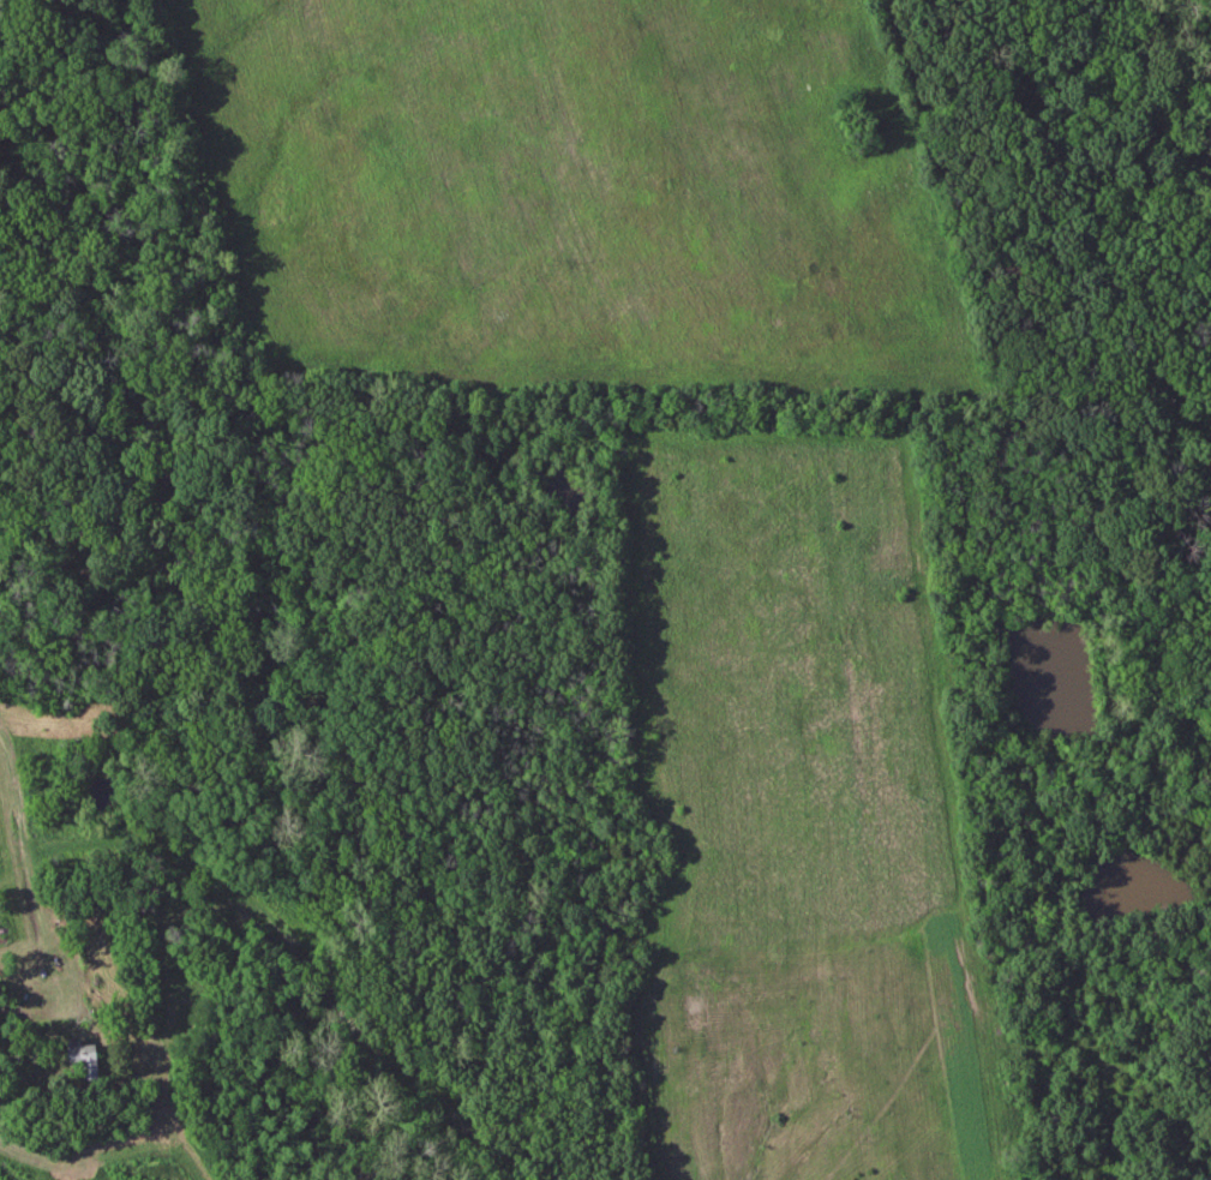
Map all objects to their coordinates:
road: (28, 870)
building: (77, 1056)

